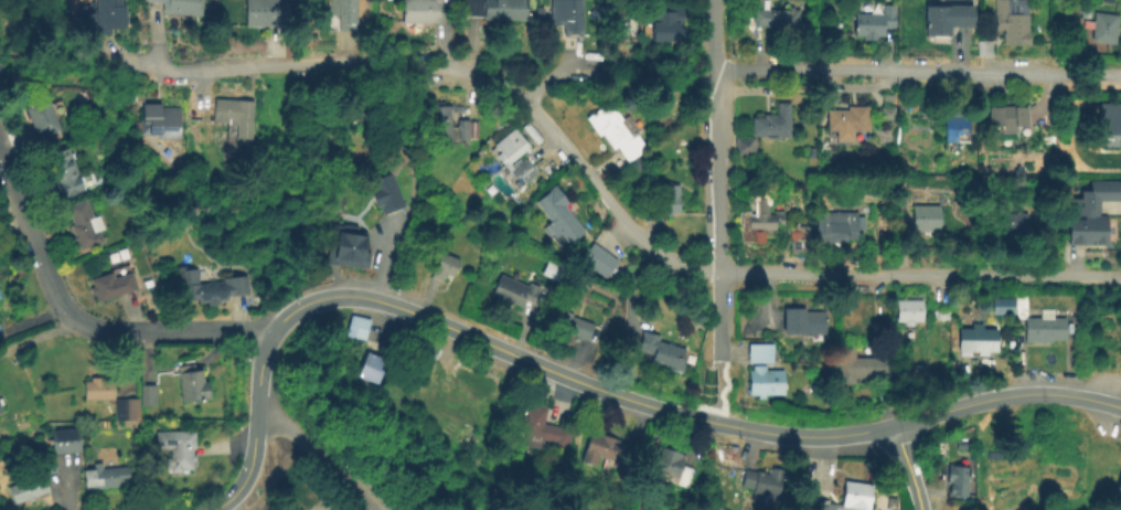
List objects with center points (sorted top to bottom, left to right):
building: (183, 6)
building: (498, 8)
building: (420, 10)
building: (341, 11)
building: (263, 12)
building: (100, 15)
building: (567, 15)
building: (777, 17)
building: (946, 18)
building: (663, 20)
building: (873, 20)
building: (1013, 20)
building: (1106, 29)
road: (310, 64)
road: (762, 70)
road: (965, 70)
building: (1006, 115)
building: (235, 116)
building: (41, 117)
building: (846, 117)
building: (157, 118)
building: (1113, 118)
building: (771, 119)
building: (440, 123)
building: (955, 125)
building: (463, 128)
building: (618, 129)
building: (745, 145)
building: (515, 157)
building: (1107, 164)
building: (60, 171)
road: (717, 177)
road: (596, 187)
building: (386, 192)
building: (666, 199)
building: (1092, 214)
building: (559, 216)
building: (927, 216)
building: (760, 221)
building: (81, 222)
building: (1011, 222)
building: (836, 226)
building: (799, 238)
building: (348, 248)
building: (598, 257)
building: (442, 264)
building: (611, 270)
road: (919, 276)
building: (107, 283)
building: (209, 287)
building: (513, 288)
building: (1005, 307)
road: (406, 310)
building: (909, 310)
building: (804, 321)
road: (83, 323)
building: (573, 323)
building: (355, 326)
building: (1047, 330)
building: (978, 340)
building: (427, 349)
building: (662, 350)
building: (760, 351)
building: (369, 364)
building: (863, 364)
building: (460, 370)
building: (186, 379)
building: (765, 380)
building: (430, 381)
road: (719, 390)
building: (146, 393)
building: (108, 395)
road: (1005, 395)
building: (0, 401)
building: (0, 412)
building: (542, 428)
road: (810, 436)
building: (64, 438)
building: (174, 445)
building: (605, 448)
road: (636, 456)
road: (317, 457)
building: (666, 466)
road: (908, 467)
building: (104, 475)
building: (764, 480)
building: (958, 481)
building: (1119, 484)
building: (32, 486)
building: (1120, 492)
building: (848, 497)

